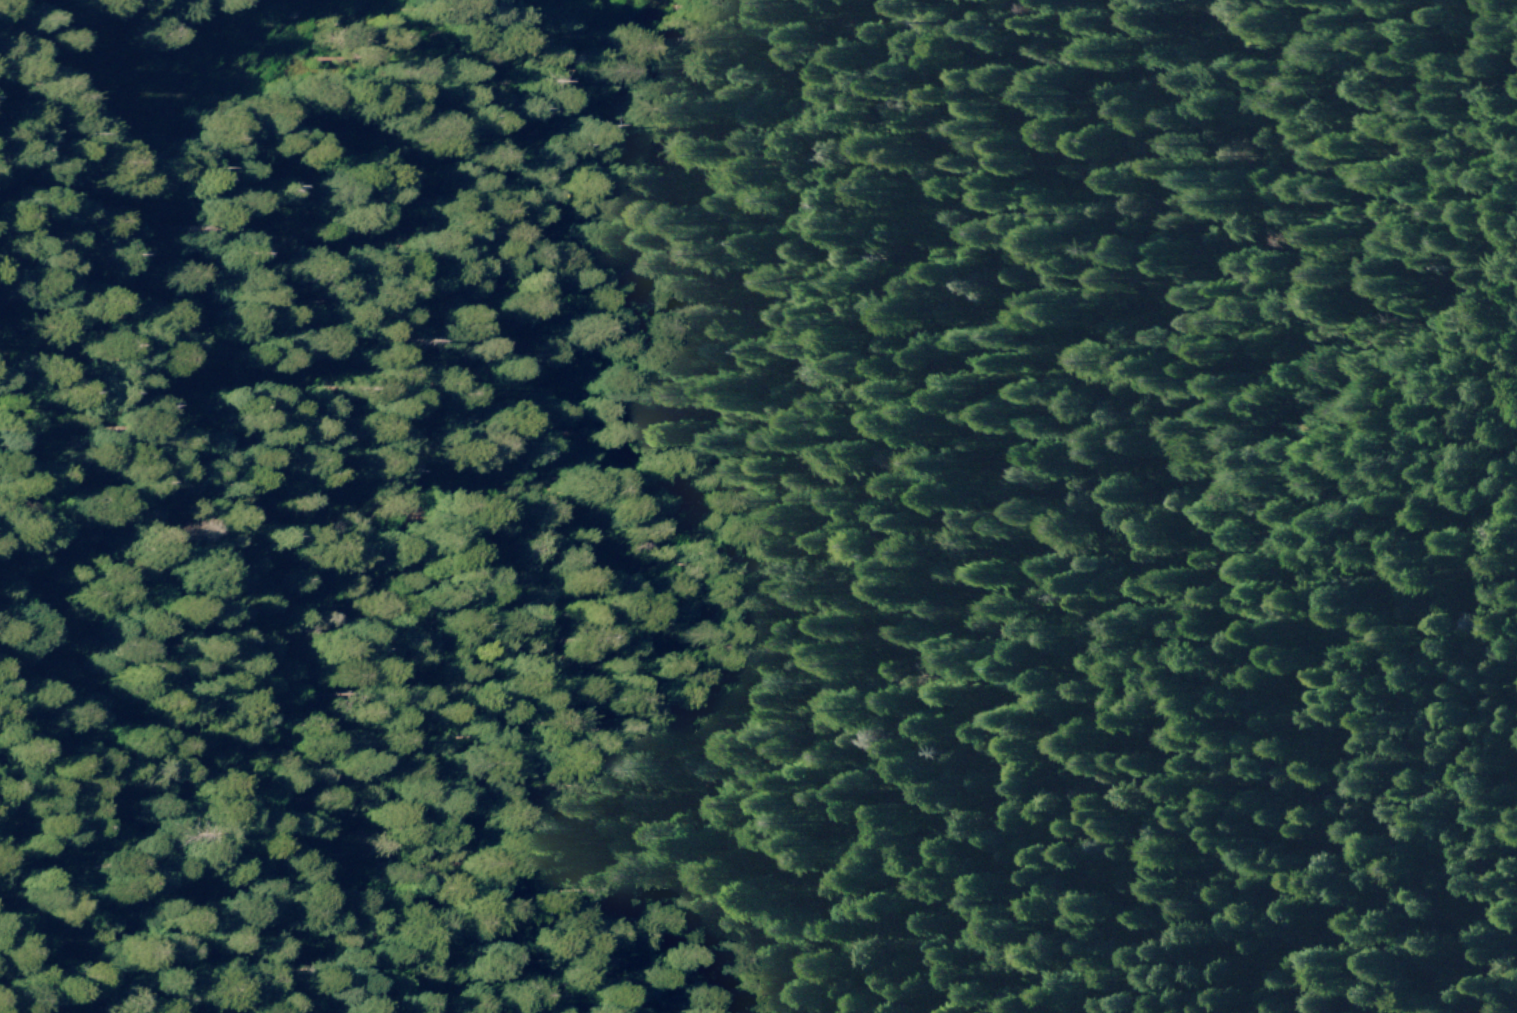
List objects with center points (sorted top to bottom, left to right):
road: (725, 277)
road: (52, 510)
road: (102, 549)

